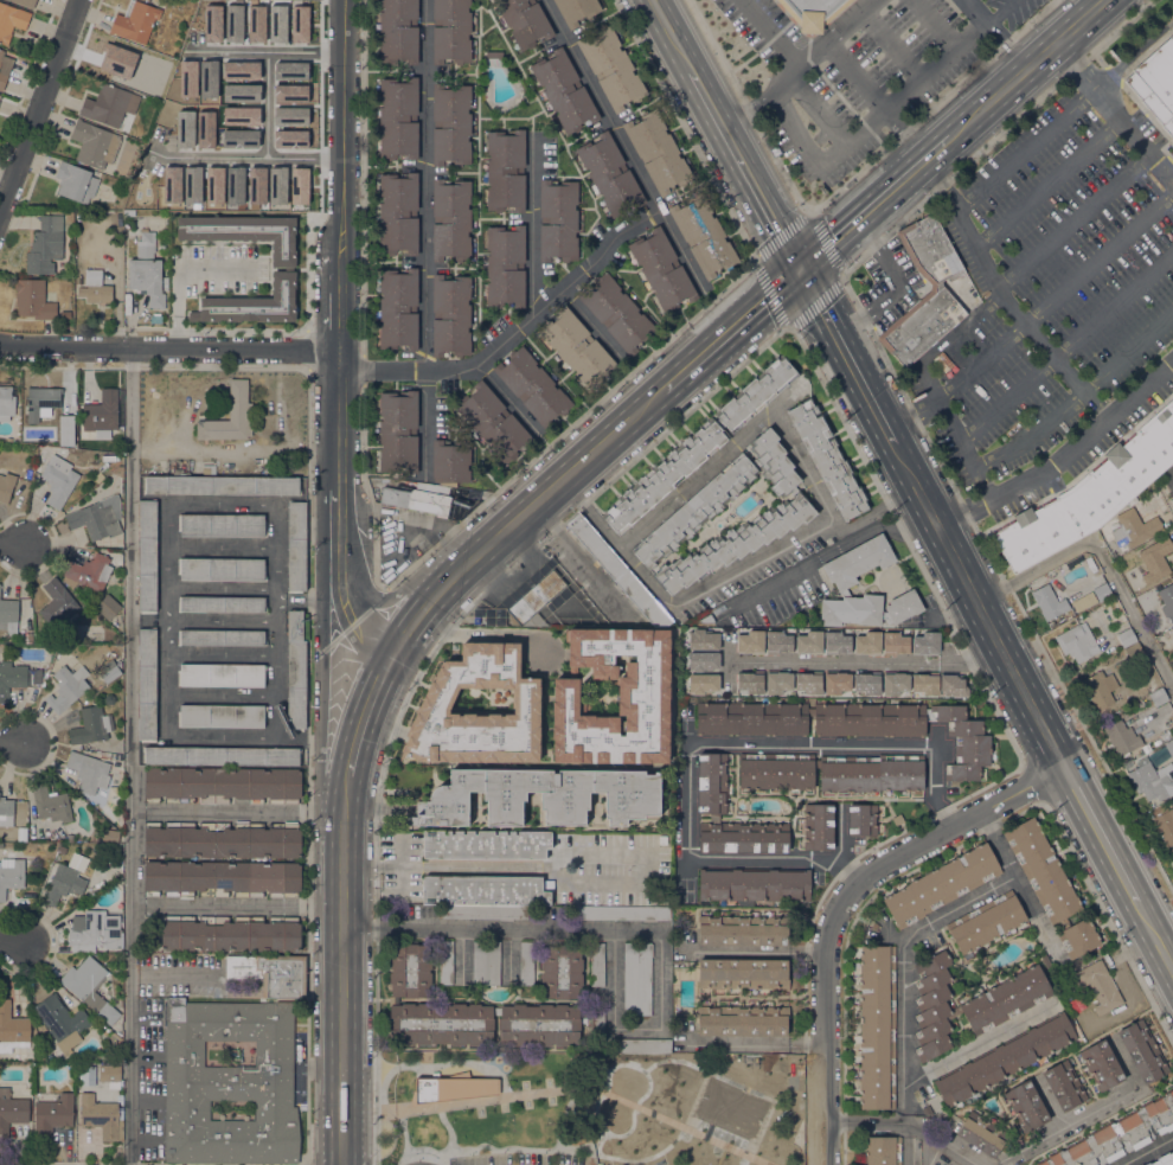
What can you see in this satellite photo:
building: (493, 0)
building: (25, 2)
building: (577, 9)
building: (812, 9)
road: (1002, 12)
building: (833, 13)
building: (11, 20)
building: (135, 21)
building: (524, 21)
road: (936, 25)
building: (450, 31)
building: (398, 32)
road: (770, 32)
road: (996, 34)
road: (672, 36)
road: (832, 36)
road: (893, 45)
road: (269, 53)
building: (1, 55)
building: (492, 58)
building: (610, 68)
road: (1027, 69)
road: (857, 77)
road: (28, 78)
building: (2, 79)
building: (1155, 83)
building: (564, 90)
road: (905, 96)
road: (62, 101)
building: (109, 104)
road: (761, 105)
road: (821, 108)
road: (39, 109)
road: (1114, 111)
building: (398, 117)
road: (897, 120)
building: (450, 124)
road: (795, 130)
road: (917, 142)
road: (890, 143)
building: (95, 145)
road: (623, 147)
road: (1026, 151)
building: (656, 152)
road: (274, 155)
building: (506, 171)
road: (746, 171)
building: (609, 174)
building: (75, 181)
road: (1047, 184)
road: (423, 185)
building: (249, 198)
road: (874, 205)
building: (398, 213)
building: (69, 216)
building: (557, 219)
building: (450, 220)
road: (530, 220)
road: (963, 226)
building: (703, 236)
building: (146, 237)
building: (45, 245)
road: (307, 256)
road: (1034, 260)
building: (505, 265)
building: (284, 269)
building: (661, 270)
traffic signals: (801, 271)
building: (146, 275)
road: (350, 280)
building: (164, 283)
building: (95, 287)
road: (899, 288)
road: (1056, 299)
building: (33, 300)
building: (936, 302)
building: (398, 308)
building: (616, 313)
building: (65, 314)
building: (450, 315)
road: (517, 321)
road: (588, 321)
road: (731, 333)
building: (577, 347)
road: (1066, 347)
road: (174, 352)
road: (1053, 356)
road: (846, 358)
road: (742, 365)
building: (532, 388)
building: (755, 392)
road: (502, 393)
road: (1077, 396)
building: (6, 401)
building: (49, 408)
building: (101, 414)
road: (912, 415)
building: (229, 416)
building: (493, 422)
road: (423, 423)
building: (398, 431)
road: (955, 433)
road: (795, 453)
road: (1064, 457)
building: (827, 459)
building: (450, 461)
building: (774, 462)
building: (177, 467)
building: (209, 469)
road: (1172, 469)
building: (664, 475)
road: (696, 479)
building: (58, 480)
building: (6, 486)
building: (222, 486)
railway: (555, 493)
building: (1089, 495)
building: (418, 498)
building: (694, 511)
building: (97, 518)
road: (515, 524)
building: (222, 525)
building: (1129, 530)
building: (733, 543)
road: (14, 544)
building: (296, 546)
road: (831, 552)
building: (146, 556)
road: (1101, 557)
building: (858, 561)
building: (1154, 561)
building: (222, 569)
building: (90, 571)
building: (617, 572)
road: (720, 578)
building: (1102, 591)
building: (1047, 598)
building: (1167, 601)
building: (534, 602)
building: (58, 603)
building: (222, 604)
building: (108, 607)
road: (979, 607)
road: (392, 608)
building: (868, 609)
building: (8, 616)
road: (351, 617)
building: (707, 619)
road: (476, 633)
building: (1126, 636)
building: (222, 638)
building: (1160, 639)
building: (703, 640)
building: (750, 642)
building: (777, 642)
building: (809, 642)
building: (837, 642)
building: (867, 642)
building: (1077, 642)
building: (895, 644)
building: (927, 644)
building: (1134, 652)
building: (703, 661)
road: (871, 661)
building: (295, 671)
building: (110, 674)
building: (222, 674)
building: (17, 678)
building: (750, 681)
building: (777, 681)
building: (809, 681)
building: (837, 681)
building: (867, 683)
building: (895, 683)
building: (925, 683)
building: (146, 684)
building: (703, 684)
building: (951, 685)
building: (68, 687)
building: (642, 690)
building: (1097, 690)
building: (1158, 696)
road: (329, 710)
building: (477, 711)
building: (222, 716)
building: (752, 718)
road: (361, 719)
building: (1171, 724)
building: (91, 726)
building: (910, 729)
building: (1121, 737)
road: (786, 743)
road: (12, 744)
building: (1169, 748)
building: (104, 756)
building: (222, 756)
road: (129, 757)
building: (89, 772)
building: (776, 772)
building: (871, 774)
building: (1152, 779)
building: (712, 782)
building: (222, 785)
building: (632, 795)
building: (50, 804)
road: (230, 809)
building: (6, 811)
road: (344, 819)
building: (863, 819)
building: (818, 826)
building: (1165, 826)
road: (1102, 834)
building: (110, 836)
building: (70, 838)
building: (95, 838)
building: (223, 839)
road: (998, 843)
building: (486, 845)
building: (62, 850)
road: (781, 854)
road: (556, 866)
building: (1041, 870)
building: (11, 875)
building: (222, 878)
building: (62, 884)
building: (755, 884)
building: (941, 884)
building: (485, 895)
road: (840, 902)
road: (957, 903)
road: (236, 905)
building: (620, 913)
building: (986, 921)
road: (500, 928)
building: (96, 930)
building: (743, 930)
building: (231, 933)
road: (1155, 934)
building: (1078, 937)
road: (14, 941)
road: (752, 949)
road: (461, 954)
road: (508, 955)
building: (446, 962)
building: (485, 962)
building: (526, 962)
building: (597, 965)
building: (410, 969)
building: (560, 972)
building: (270, 973)
building: (743, 973)
building: (636, 979)
building: (1098, 985)
building: (89, 987)
building: (1006, 999)
building: (932, 1005)
building: (954, 1011)
road: (341, 1013)
building: (62, 1020)
building: (742, 1020)
building: (596, 1023)
building: (440, 1024)
building: (539, 1024)
road: (636, 1026)
building: (877, 1026)
building: (40, 1028)
building: (12, 1029)
road: (752, 1041)
road: (979, 1042)
building: (640, 1045)
building: (1142, 1051)
building: (246, 1055)
building: (1005, 1060)
building: (1102, 1065)
building: (110, 1073)
road: (570, 1073)
building: (86, 1075)
building: (229, 1083)
building: (1063, 1084)
building: (453, 1088)
road: (807, 1100)
road: (1047, 1101)
road: (470, 1102)
building: (1026, 1105)
park: (589, 1108)
park: (730, 1108)
building: (925, 1109)
building: (11, 1110)
road: (1085, 1113)
building: (52, 1115)
building: (102, 1116)
road: (868, 1120)
road: (685, 1128)
building: (981, 1134)
building: (1118, 1135)
road: (932, 1144)
road: (1145, 1150)
building: (883, 1151)
road: (931, 1156)
parking lot: (533, 1158)
parking lot: (482, 1159)
building: (1162, 1159)
parking lot: (577, 1160)
building: (1140, 1164)

